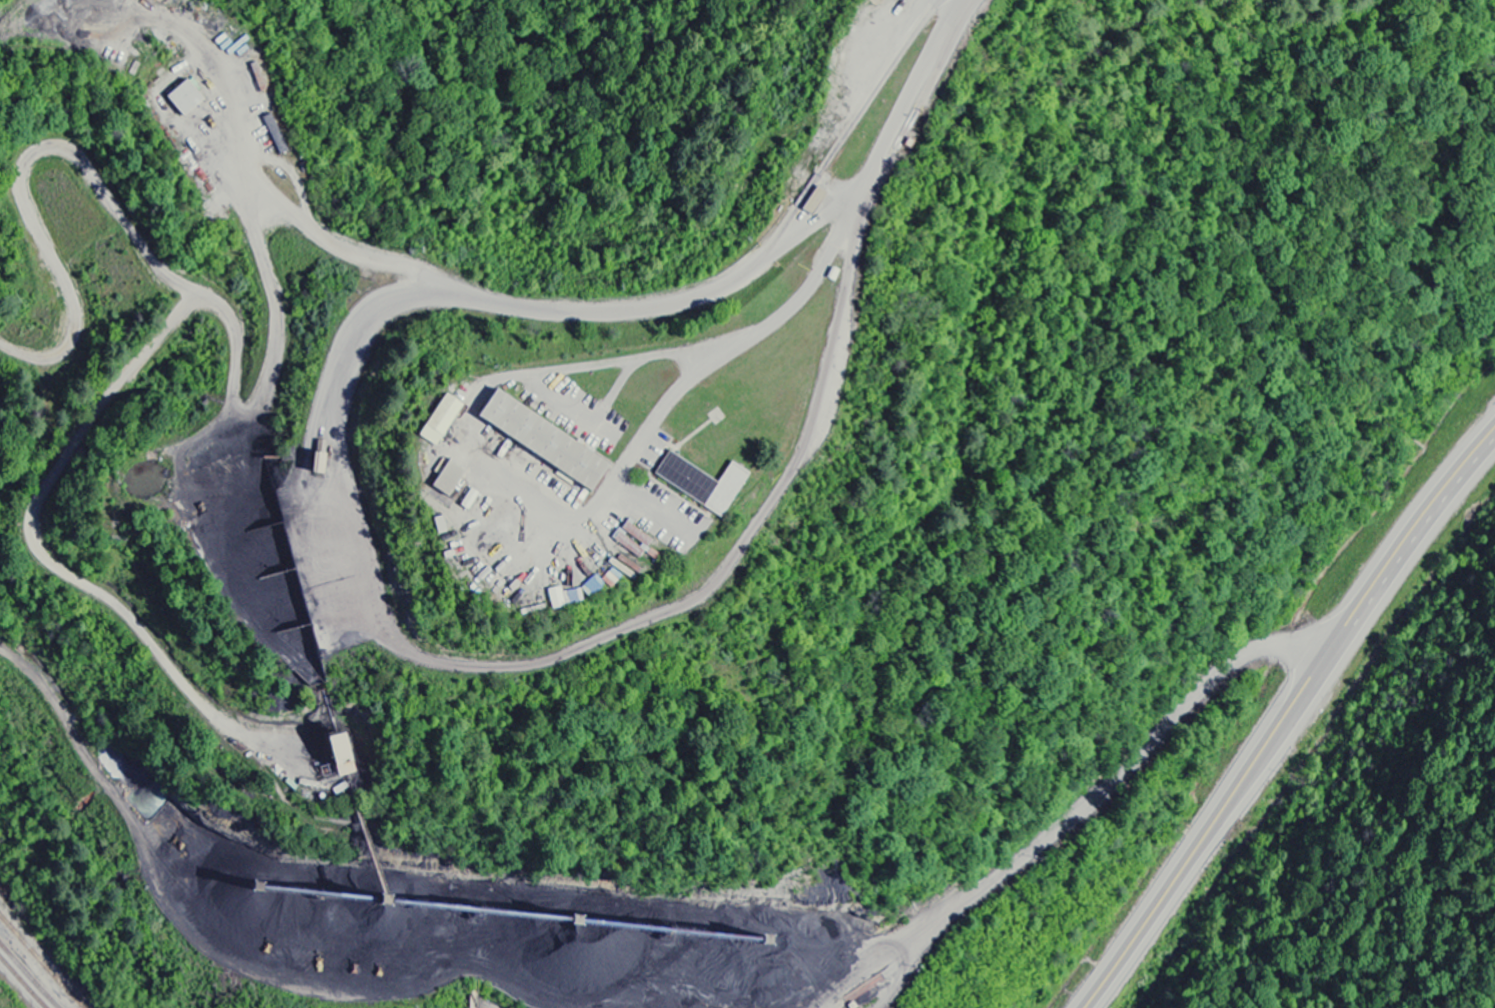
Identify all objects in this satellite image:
building: (183, 99)
building: (440, 420)
building: (541, 440)
building: (447, 477)
building: (702, 483)
building: (469, 499)
road: (1423, 516)
building: (439, 525)
building: (556, 598)
building: (337, 755)
road: (1223, 809)
railway: (31, 973)
railway: (23, 981)

